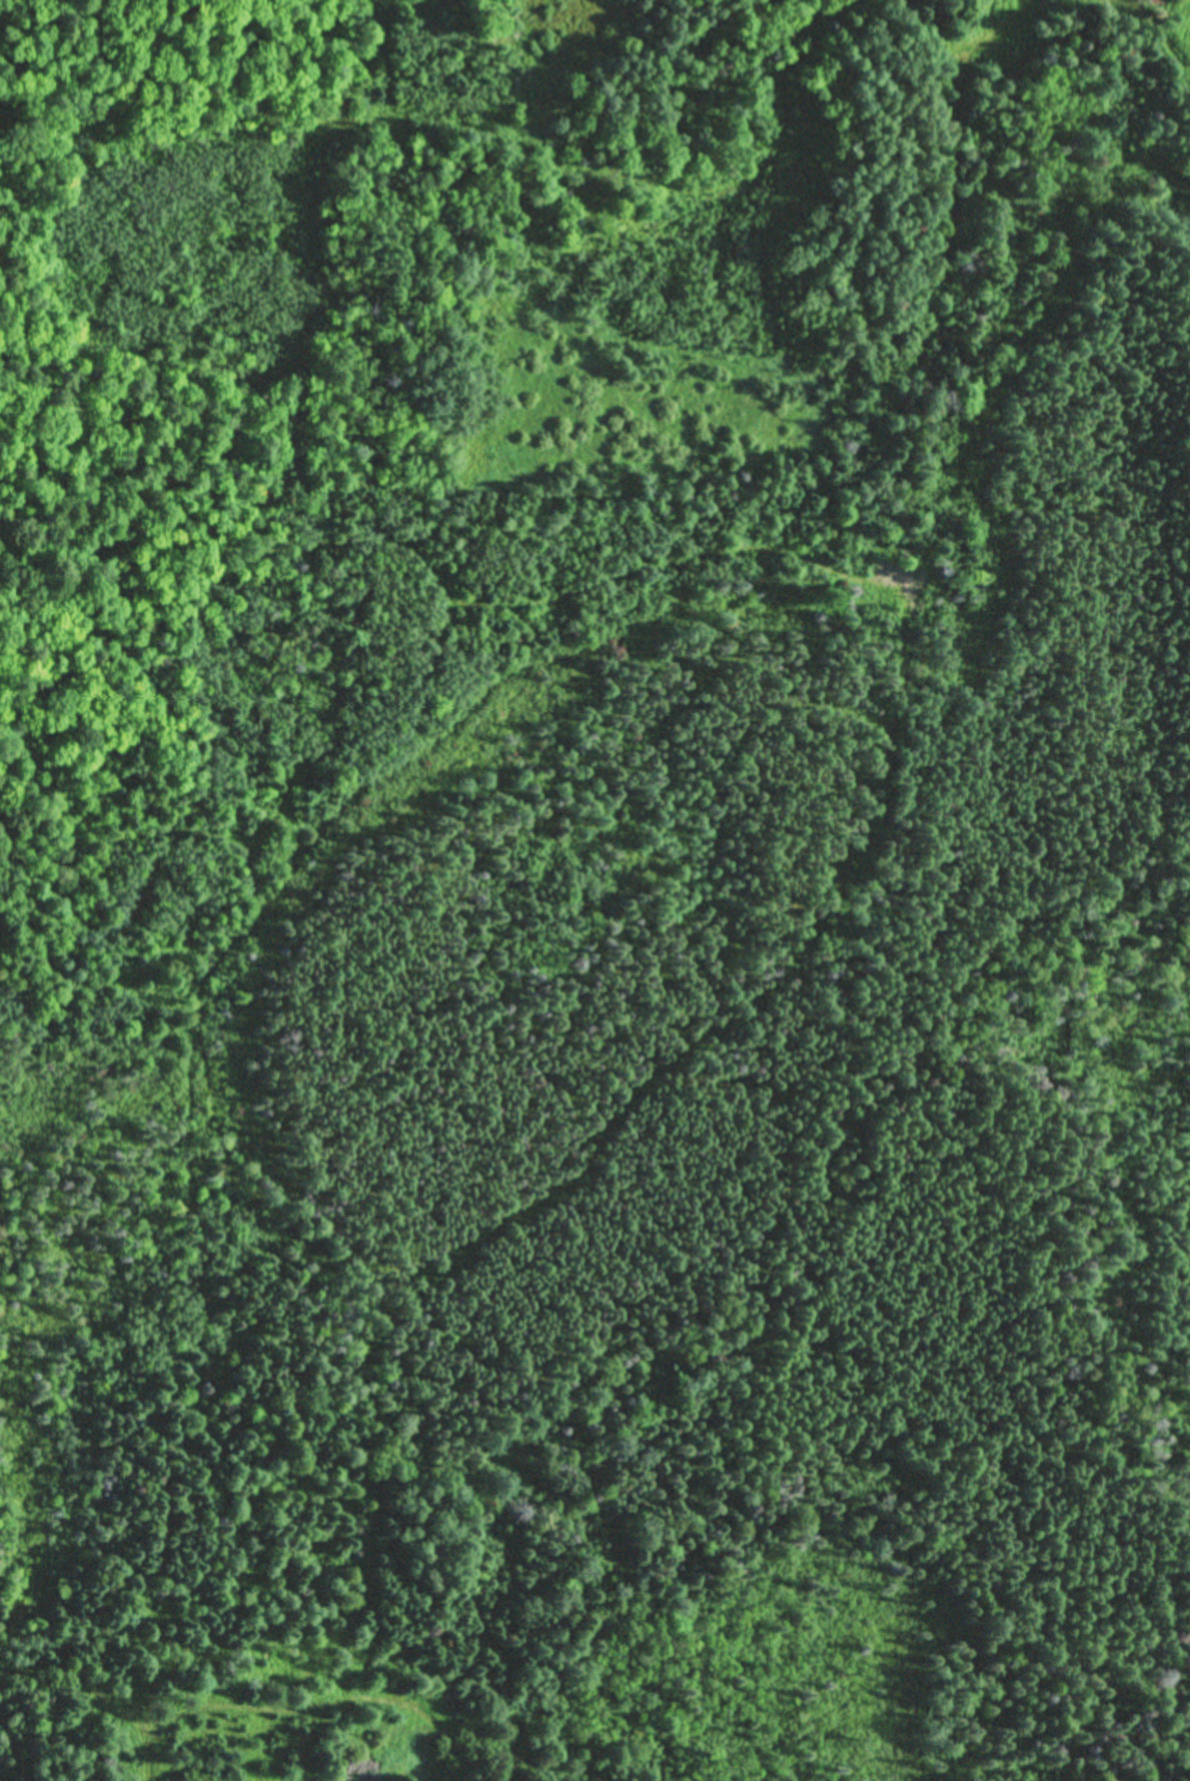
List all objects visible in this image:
park: (1101, 1713)

